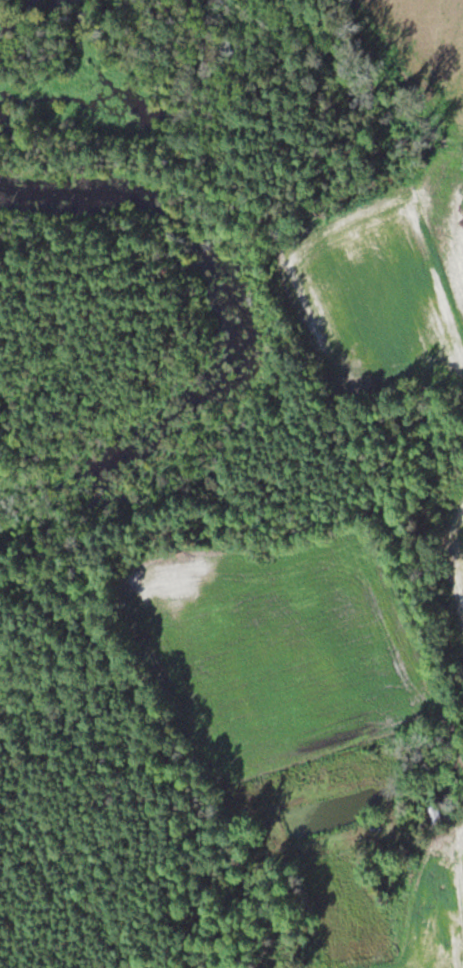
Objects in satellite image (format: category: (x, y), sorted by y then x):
building: (437, 815)

